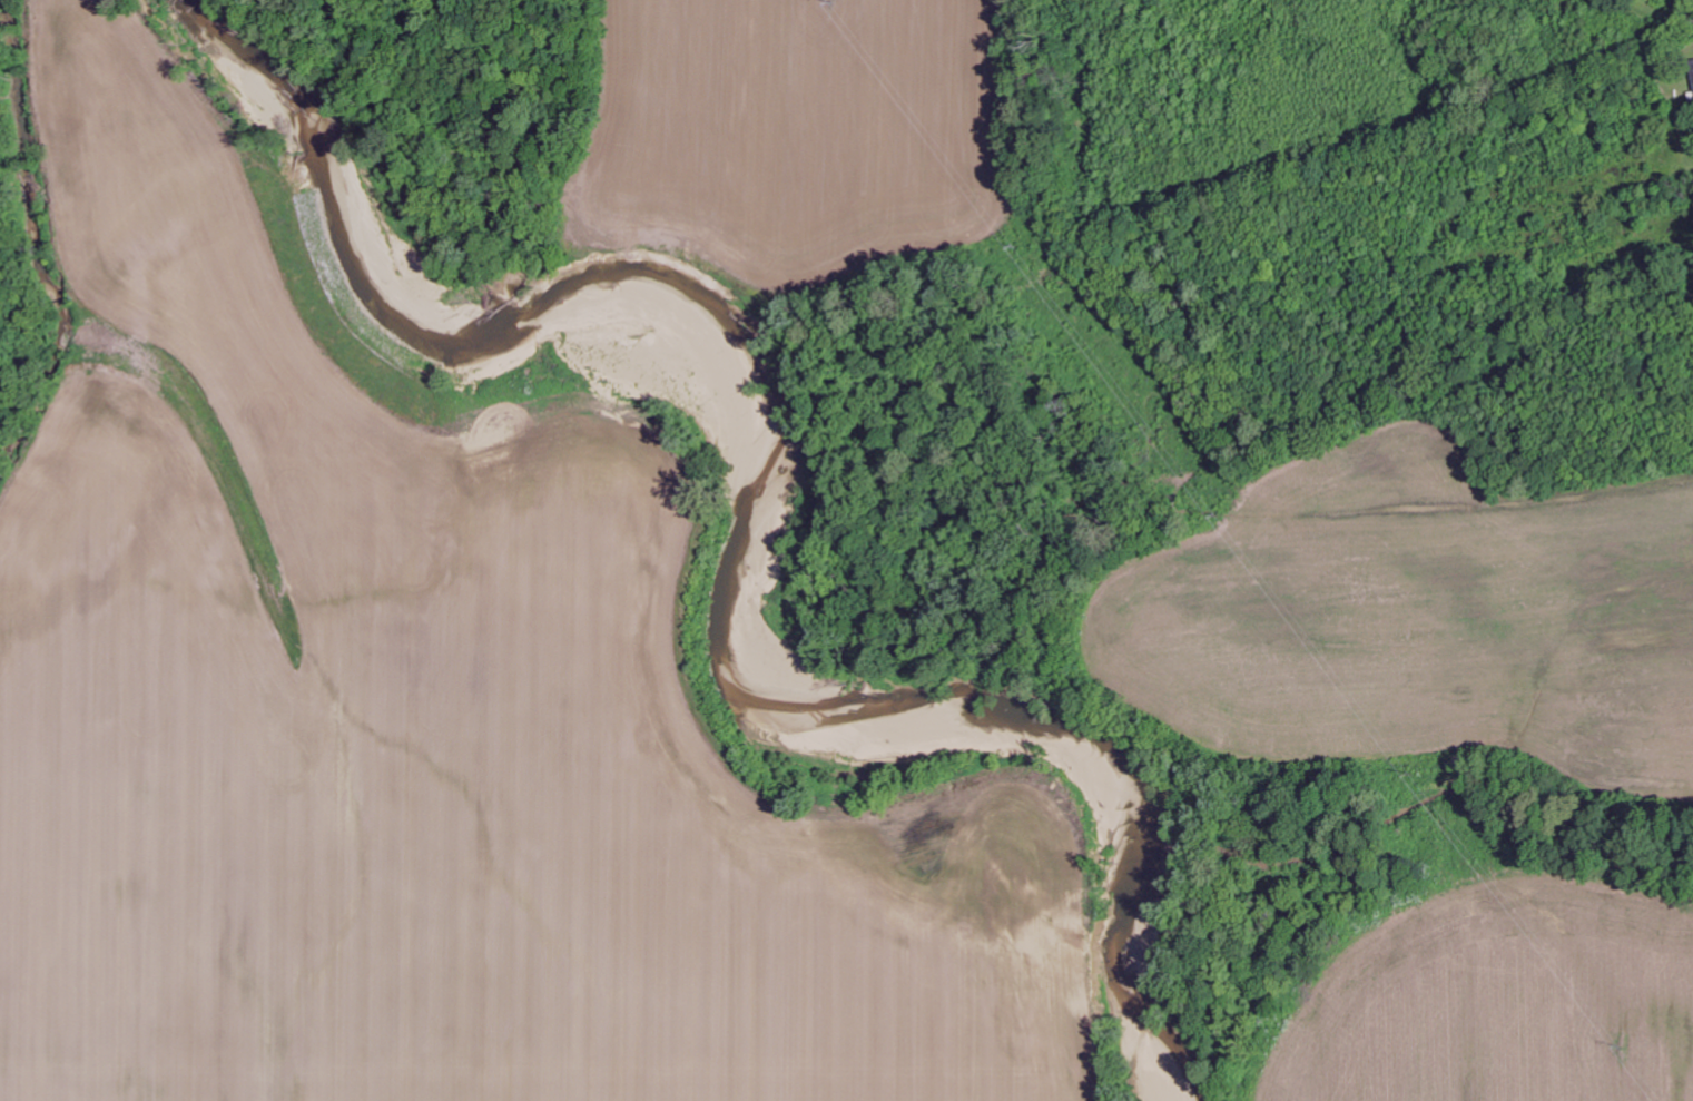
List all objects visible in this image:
road: (1677, 141)

